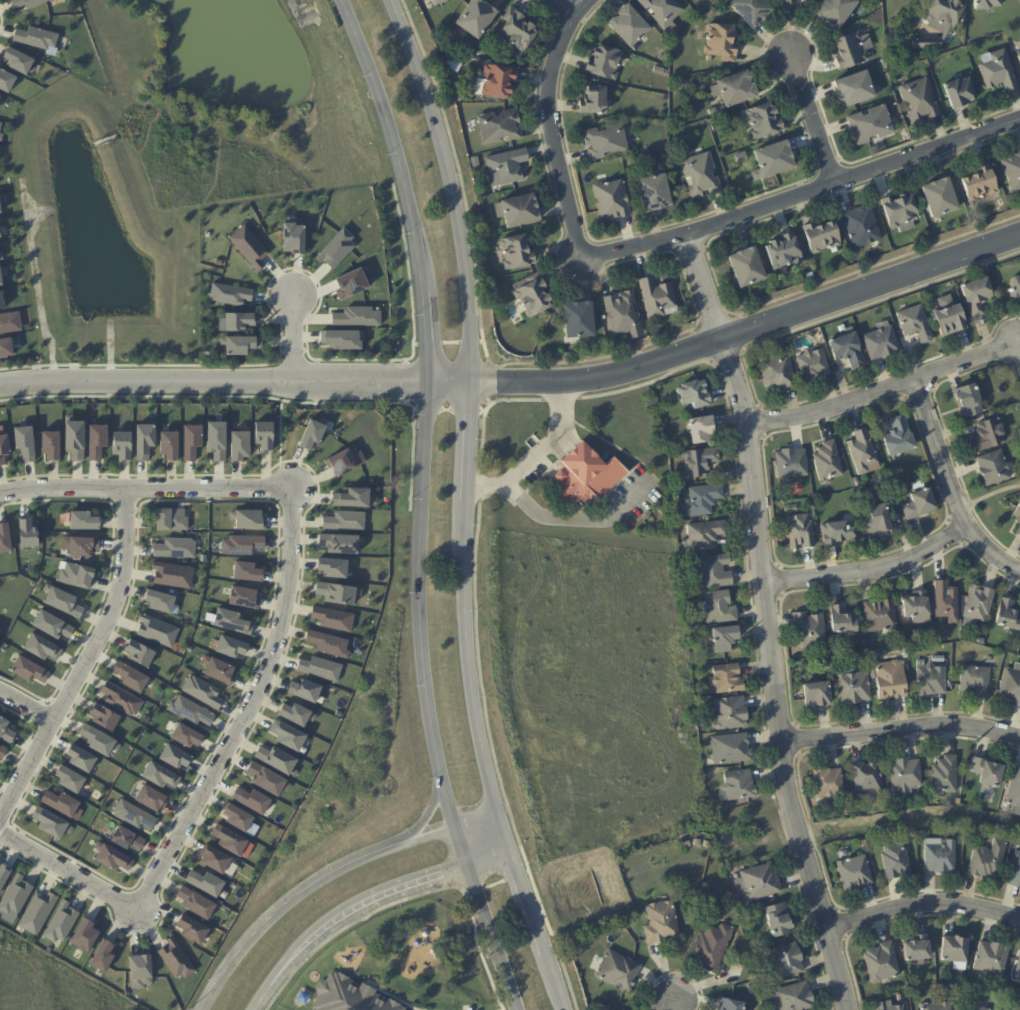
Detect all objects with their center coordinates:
building: (804, 0)
building: (437, 2)
building: (789, 2)
building: (27, 3)
building: (986, 4)
road: (563, 9)
building: (753, 11)
building: (837, 11)
building: (664, 12)
building: (476, 18)
building: (941, 21)
building: (630, 26)
building: (515, 33)
building: (37, 38)
building: (722, 42)
building: (853, 50)
building: (480, 53)
building: (1019, 57)
building: (18, 60)
building: (605, 62)
building: (1000, 71)
building: (6, 80)
building: (498, 82)
building: (455, 88)
building: (736, 89)
building: (854, 89)
building: (959, 93)
building: (0, 95)
building: (461, 99)
building: (594, 101)
building: (921, 101)
building: (713, 111)
road: (814, 117)
building: (765, 122)
building: (0, 124)
building: (871, 125)
building: (500, 127)
building: (715, 127)
building: (0, 137)
building: (606, 142)
building: (742, 157)
building: (774, 161)
building: (475, 163)
building: (506, 168)
building: (1013, 172)
building: (701, 176)
building: (980, 184)
building: (675, 190)
building: (655, 194)
building: (941, 198)
building: (612, 201)
building: (0, 210)
building: (519, 211)
building: (901, 213)
building: (862, 227)
building: (0, 235)
building: (822, 237)
building: (295, 238)
building: (249, 247)
building: (337, 248)
road: (662, 248)
building: (784, 252)
building: (517, 254)
building: (1, 255)
building: (747, 269)
building: (808, 272)
building: (2, 273)
building: (352, 283)
building: (1015, 286)
building: (230, 294)
building: (977, 295)
building: (532, 296)
road: (694, 297)
building: (2, 300)
building: (659, 300)
building: (358, 316)
building: (624, 316)
building: (949, 317)
building: (238, 320)
building: (10, 322)
building: (579, 322)
building: (915, 323)
road: (292, 338)
building: (344, 339)
building: (882, 341)
road: (731, 343)
building: (241, 346)
building: (6, 347)
building: (847, 349)
road: (1012, 364)
building: (813, 366)
building: (778, 371)
road: (214, 381)
building: (694, 394)
road: (879, 394)
building: (969, 399)
road: (470, 409)
road: (425, 429)
building: (703, 429)
building: (313, 434)
building: (988, 435)
building: (899, 436)
building: (76, 439)
building: (98, 440)
building: (145, 440)
building: (192, 440)
building: (218, 440)
building: (267, 441)
building: (25, 442)
building: (52, 444)
building: (124, 444)
building: (170, 444)
building: (240, 444)
building: (4, 447)
building: (861, 452)
road: (535, 457)
building: (345, 460)
building: (700, 461)
building: (827, 462)
building: (792, 463)
building: (994, 467)
building: (586, 475)
road: (145, 485)
road: (945, 495)
road: (984, 496)
building: (353, 498)
building: (703, 499)
building: (919, 504)
building: (1018, 513)
building: (249, 518)
road: (579, 518)
building: (877, 518)
building: (171, 519)
building: (85, 520)
building: (345, 521)
building: (800, 531)
building: (838, 531)
building: (1019, 531)
building: (27, 532)
building: (704, 535)
building: (5, 538)
building: (779, 538)
building: (342, 543)
building: (242, 544)
building: (80, 545)
building: (175, 547)
building: (203, 558)
building: (335, 567)
building: (248, 571)
building: (715, 571)
road: (863, 572)
building: (173, 574)
building: (77, 575)
building: (338, 592)
building: (244, 597)
building: (160, 600)
building: (946, 601)
building: (64, 602)
building: (979, 603)
building: (719, 607)
building: (917, 608)
building: (880, 615)
building: (1008, 615)
building: (333, 618)
building: (845, 620)
building: (233, 621)
building: (697, 623)
building: (52, 624)
building: (810, 629)
building: (157, 630)
building: (725, 638)
building: (328, 643)
building: (231, 646)
building: (42, 647)
building: (140, 652)
road: (85, 654)
building: (940, 659)
building: (825, 663)
building: (218, 668)
building: (321, 668)
building: (29, 669)
building: (131, 676)
building: (950, 677)
building: (728, 678)
building: (930, 679)
building: (975, 680)
road: (771, 681)
building: (890, 681)
building: (1012, 685)
building: (854, 687)
building: (305, 689)
building: (202, 691)
building: (795, 691)
building: (817, 695)
building: (121, 698)
road: (25, 705)
road: (248, 707)
building: (191, 710)
building: (732, 713)
building: (297, 714)
building: (104, 716)
road: (899, 729)
building: (5, 730)
building: (187, 735)
building: (288, 735)
building: (99, 739)
building: (731, 749)
building: (2, 750)
building: (175, 756)
building: (81, 758)
building: (278, 760)
building: (989, 773)
building: (160, 775)
building: (904, 775)
building: (945, 775)
building: (267, 778)
building: (70, 779)
building: (867, 779)
building: (828, 783)
building: (739, 786)
building: (1015, 792)
building: (152, 797)
building: (252, 800)
building: (61, 803)
building: (134, 814)
building: (238, 817)
building: (51, 822)
building: (128, 838)
building: (230, 839)
building: (697, 842)
building: (685, 845)
building: (707, 845)
building: (112, 856)
building: (940, 856)
building: (215, 858)
building: (989, 859)
building: (896, 862)
road: (68, 870)
building: (1016, 872)
building: (854, 873)
building: (4, 874)
road: (328, 877)
building: (206, 882)
building: (756, 884)
building: (14, 898)
road: (369, 901)
road: (921, 901)
building: (196, 902)
building: (37, 912)
road: (534, 918)
building: (61, 921)
building: (779, 921)
building: (661, 923)
building: (697, 923)
building: (193, 927)
building: (85, 934)
road: (493, 938)
building: (712, 945)
building: (575, 946)
building: (917, 949)
building: (955, 950)
building: (103, 955)
building: (176, 958)
building: (993, 959)
building: (786, 961)
building: (882, 963)
building: (140, 970)
building: (618, 971)
building: (1018, 972)
building: (752, 988)
building: (766, 992)
building: (349, 996)
building: (793, 998)
building: (899, 999)
road: (675, 1003)
building: (731, 1005)
building: (983, 1005)
building: (889, 1006)
building: (936, 1007)
building: (605, 1008)

